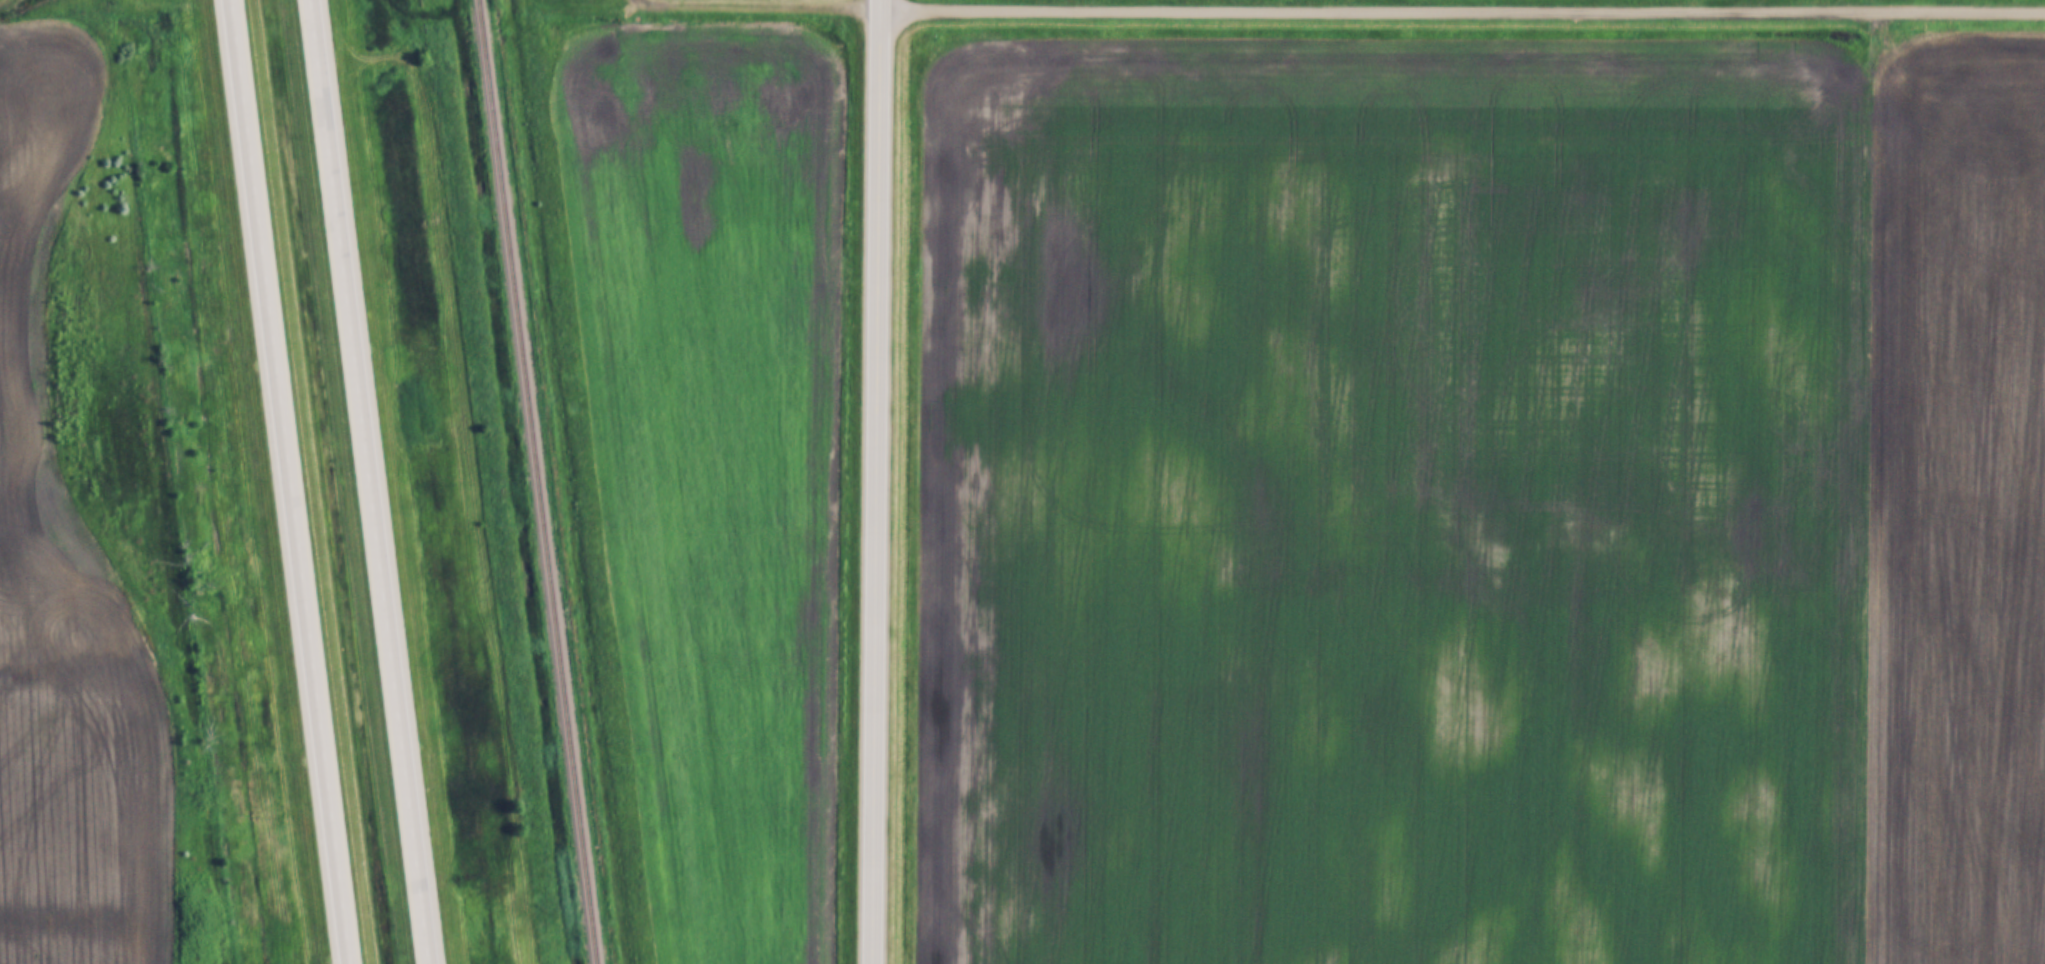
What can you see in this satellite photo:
road: (707, 4)
road: (1464, 10)
road: (878, 481)
road: (288, 482)
road: (367, 482)
railway: (535, 482)

